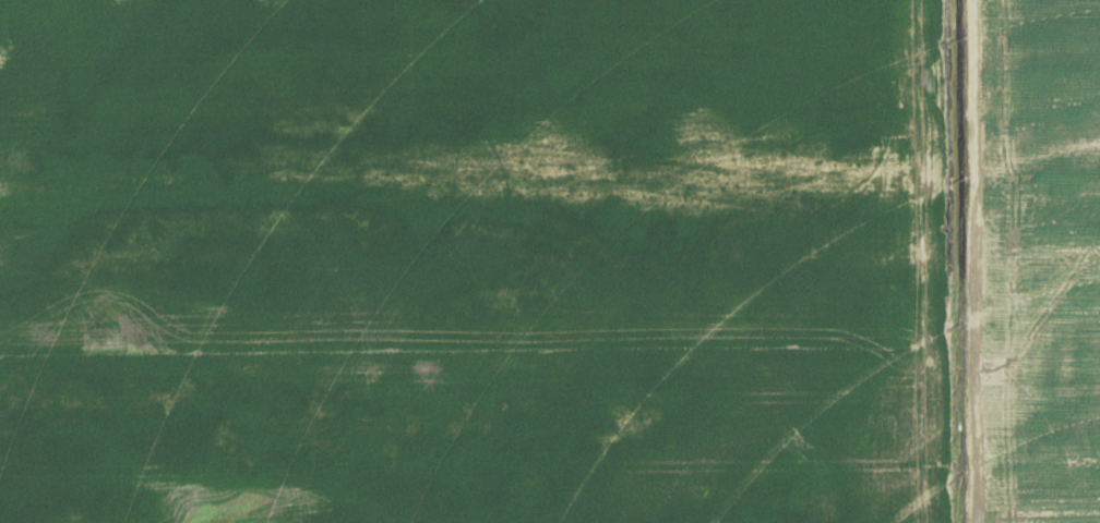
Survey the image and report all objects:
road: (976, 261)

